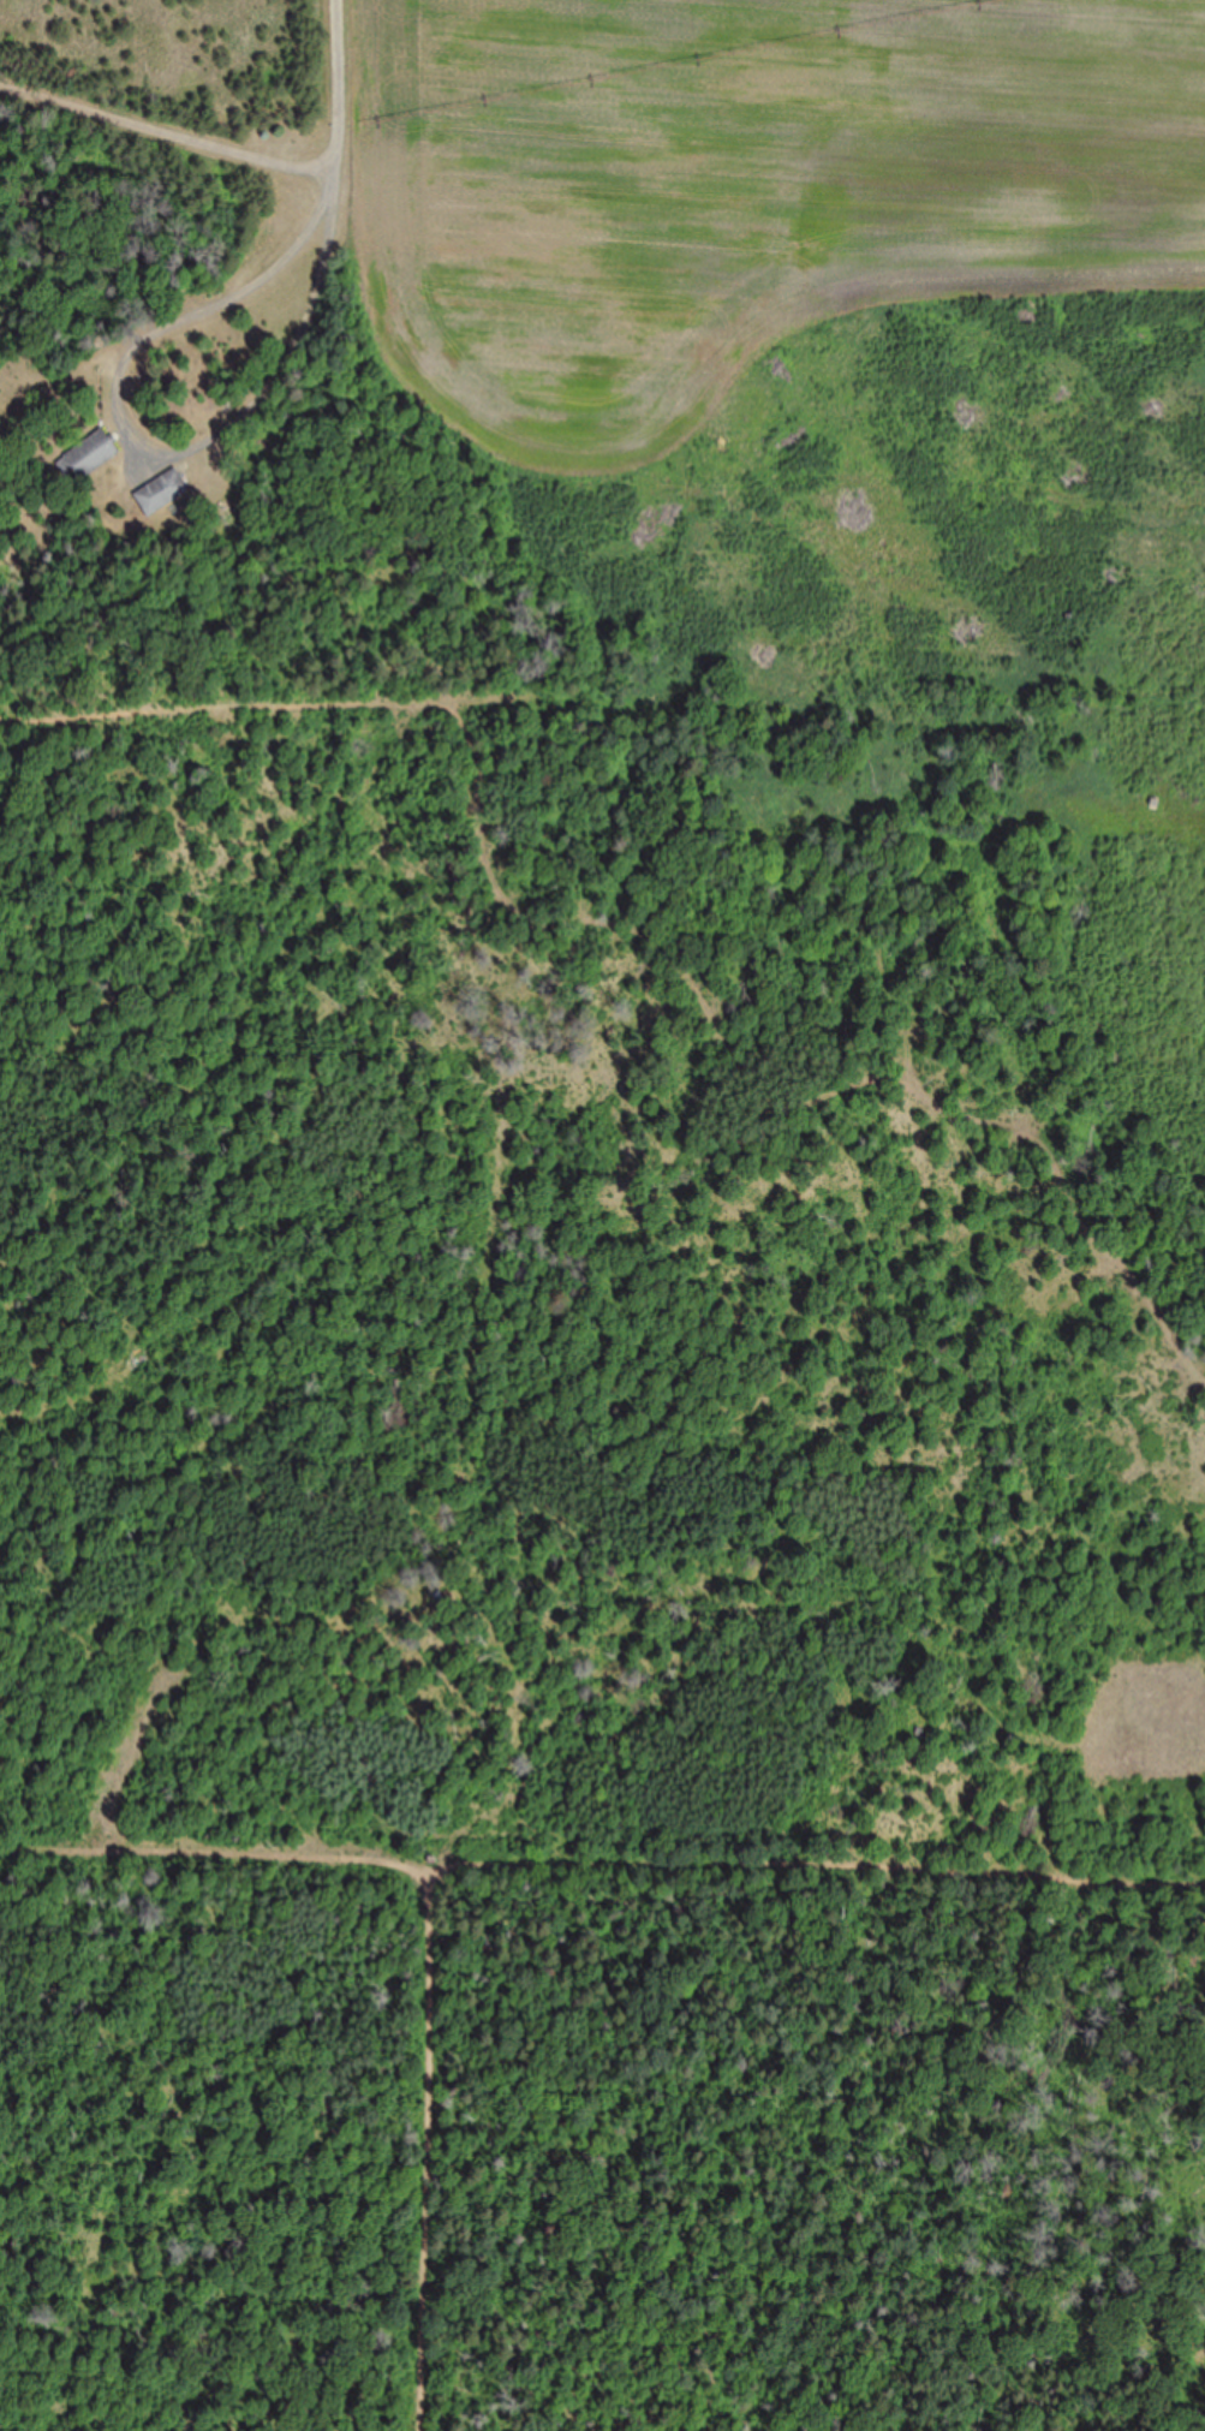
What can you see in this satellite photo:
road: (167, 94)
road: (338, 121)
road: (165, 310)
building: (89, 455)
building: (162, 493)
road: (243, 723)
road: (215, 1854)
road: (535, 1870)

